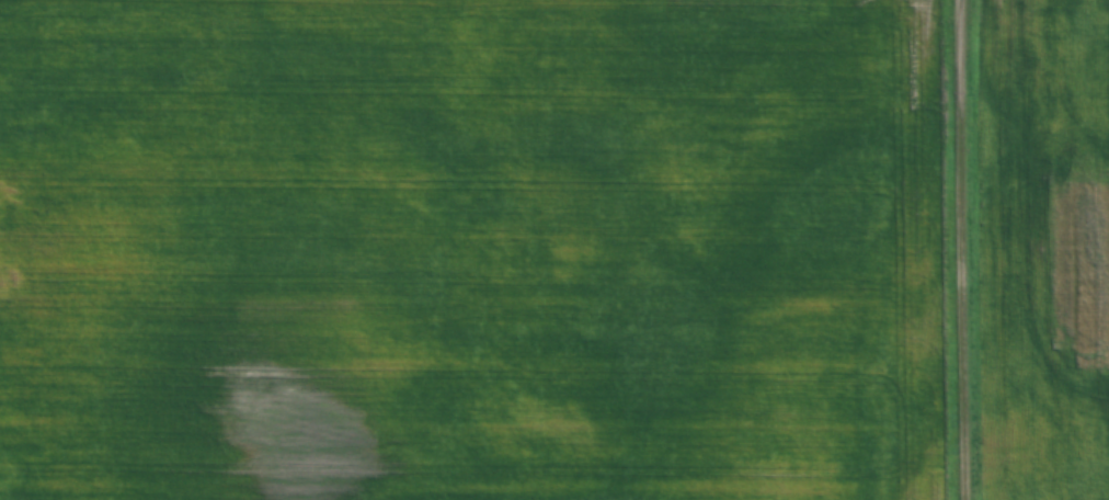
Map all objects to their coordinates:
road: (962, 250)

